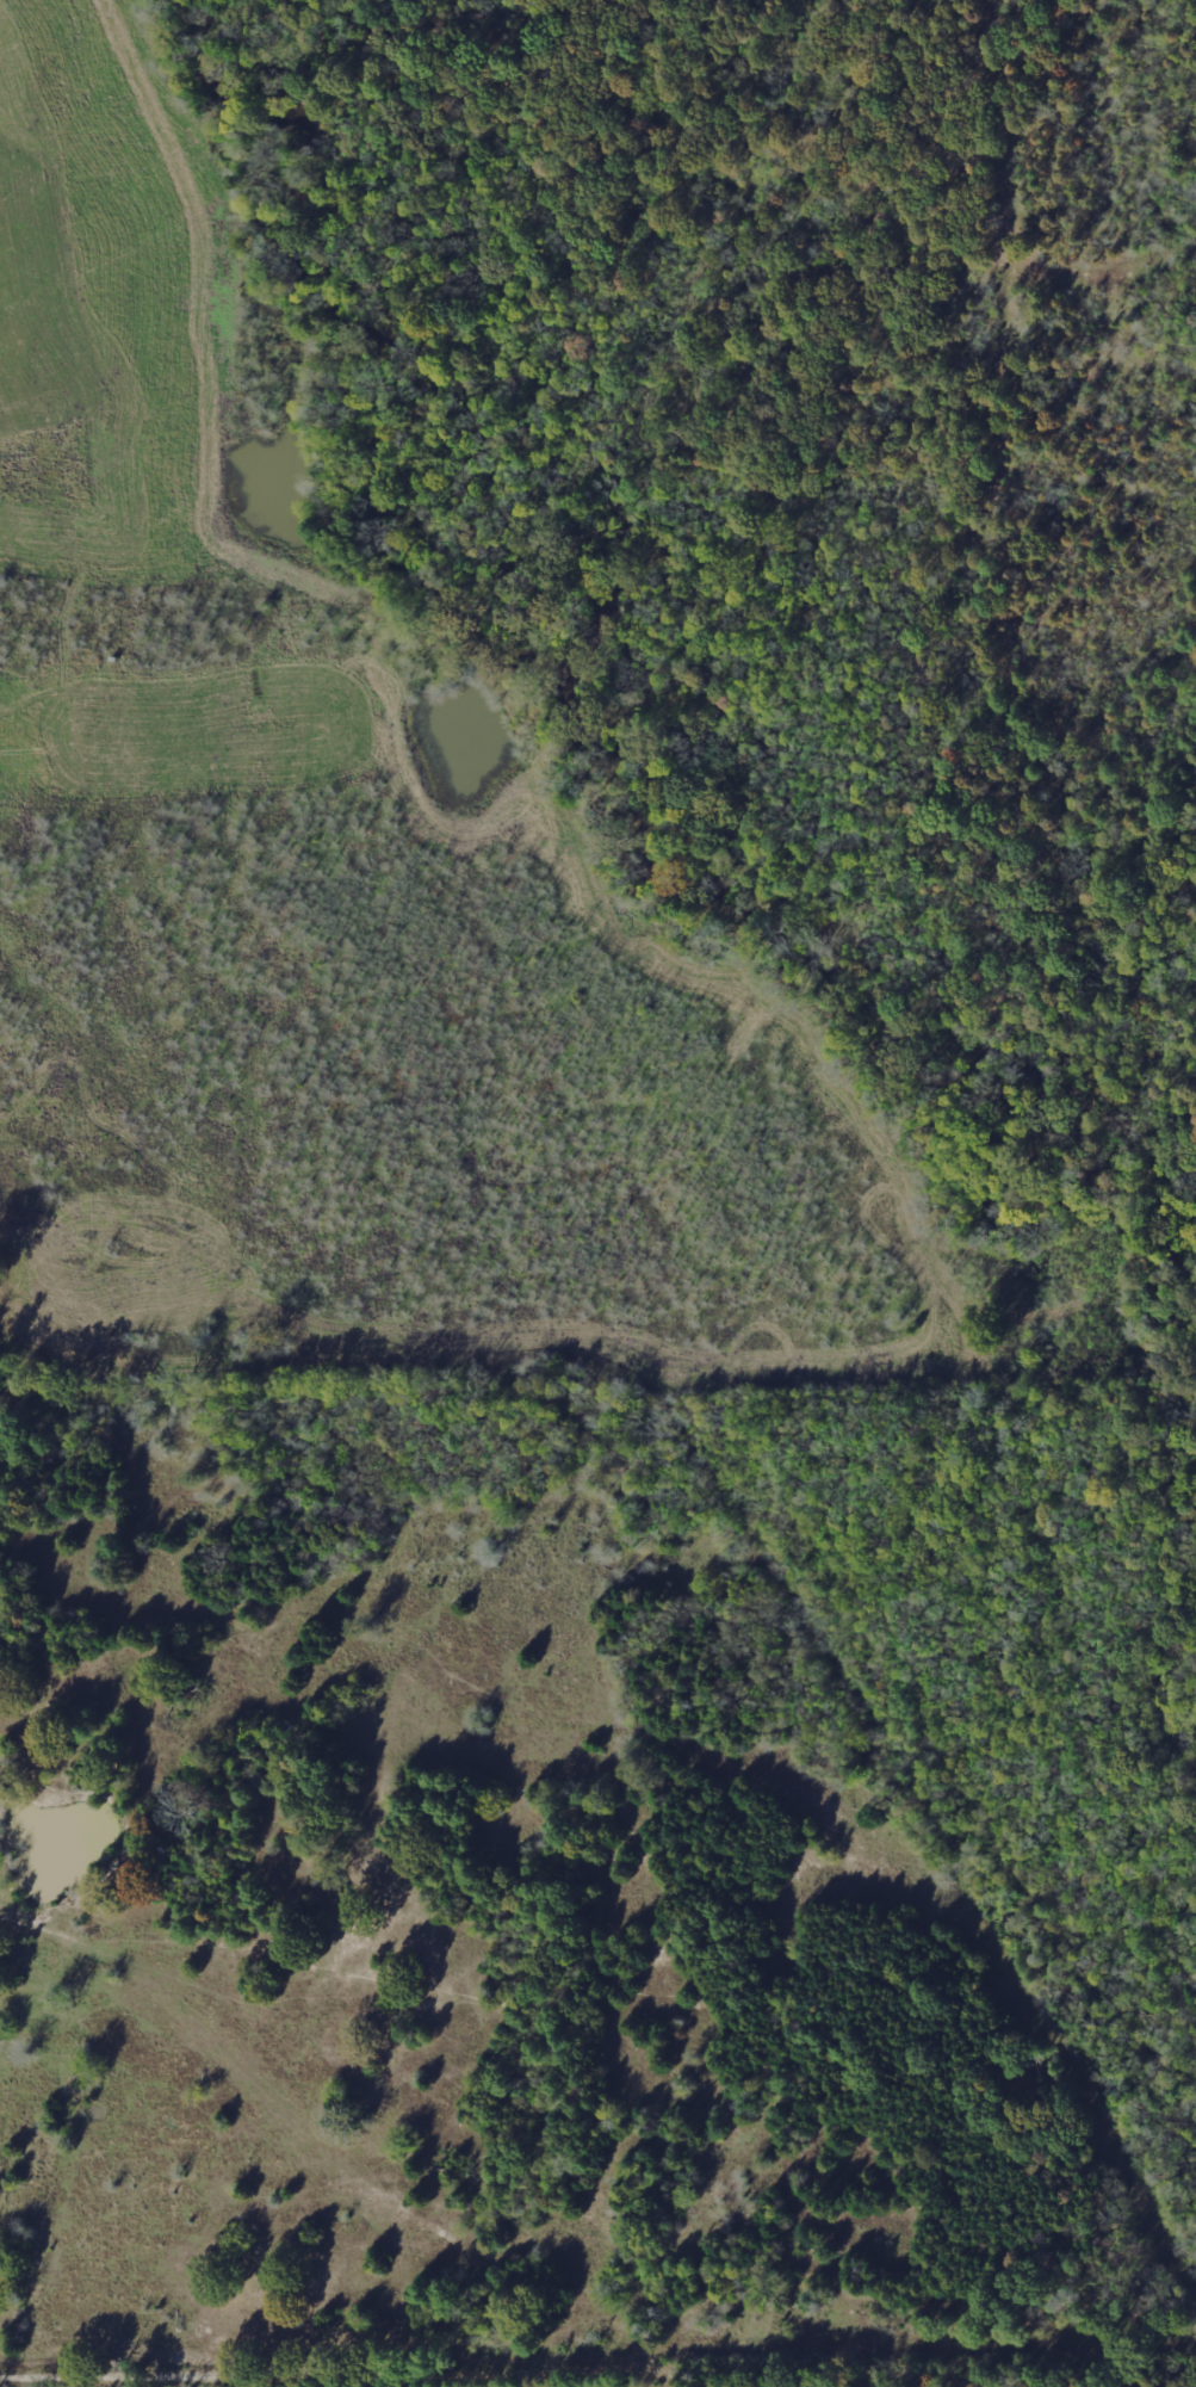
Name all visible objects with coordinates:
road: (184, 2385)

